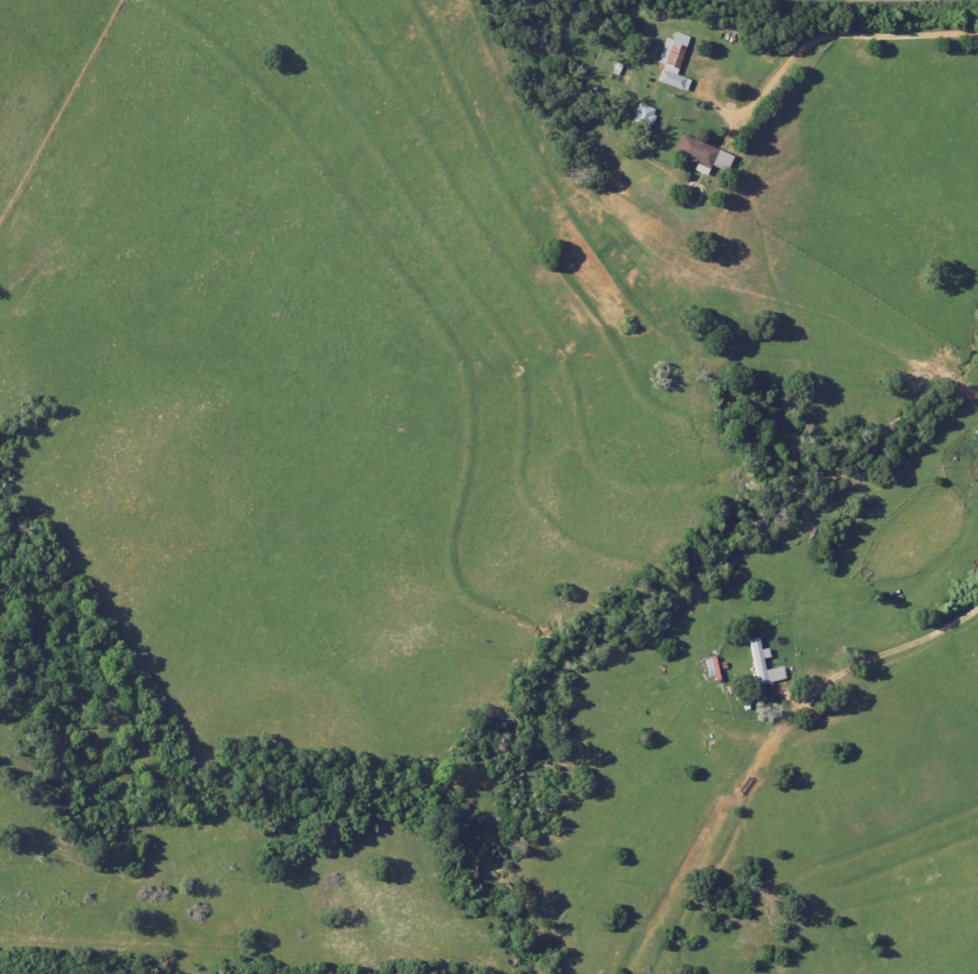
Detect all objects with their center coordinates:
road: (839, 34)
building: (671, 62)
building: (642, 116)
building: (701, 155)
road: (881, 653)
building: (757, 661)

